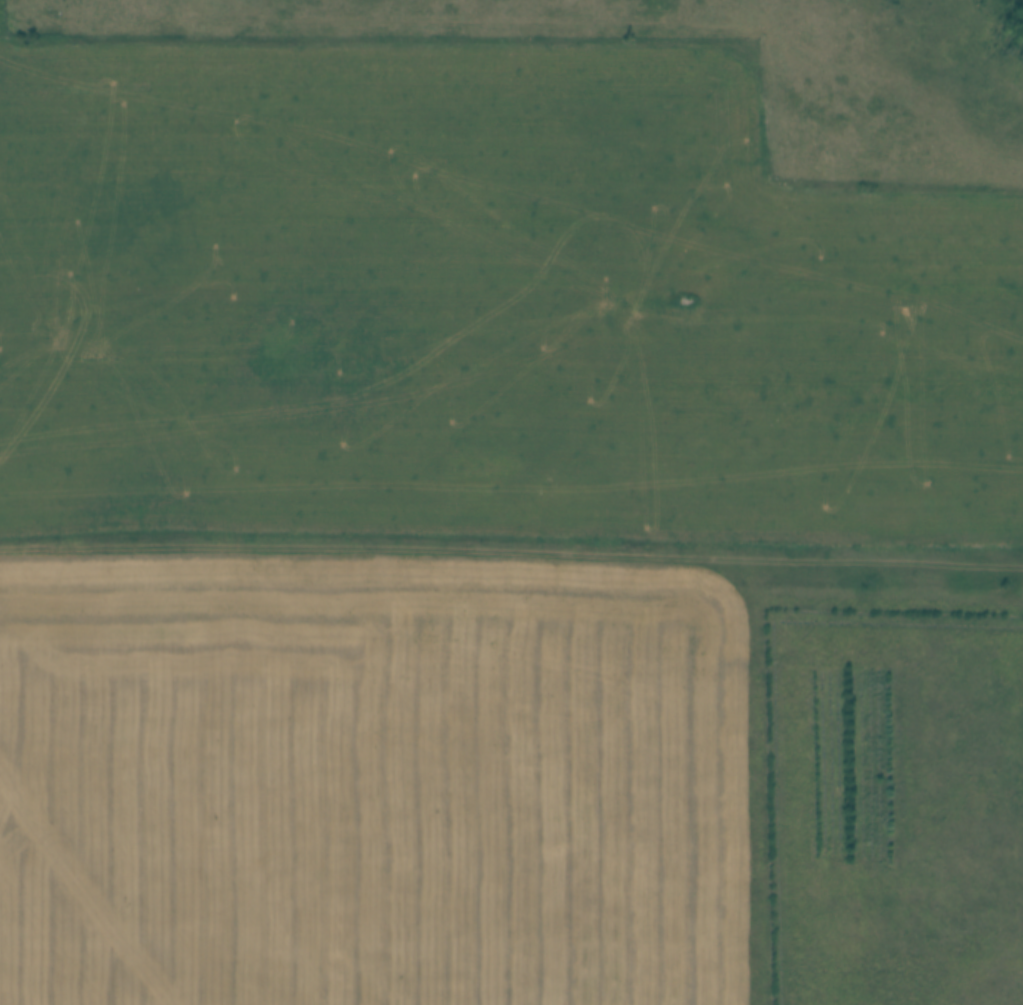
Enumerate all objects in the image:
road: (511, 565)

